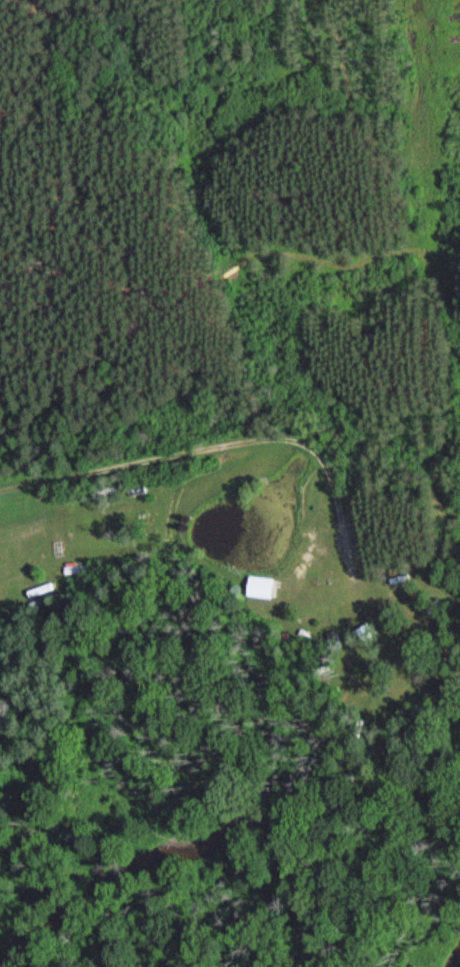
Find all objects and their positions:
road: (251, 438)
building: (105, 496)
building: (78, 570)
building: (42, 602)
building: (363, 631)
building: (333, 641)
river: (196, 841)
river: (456, 961)

